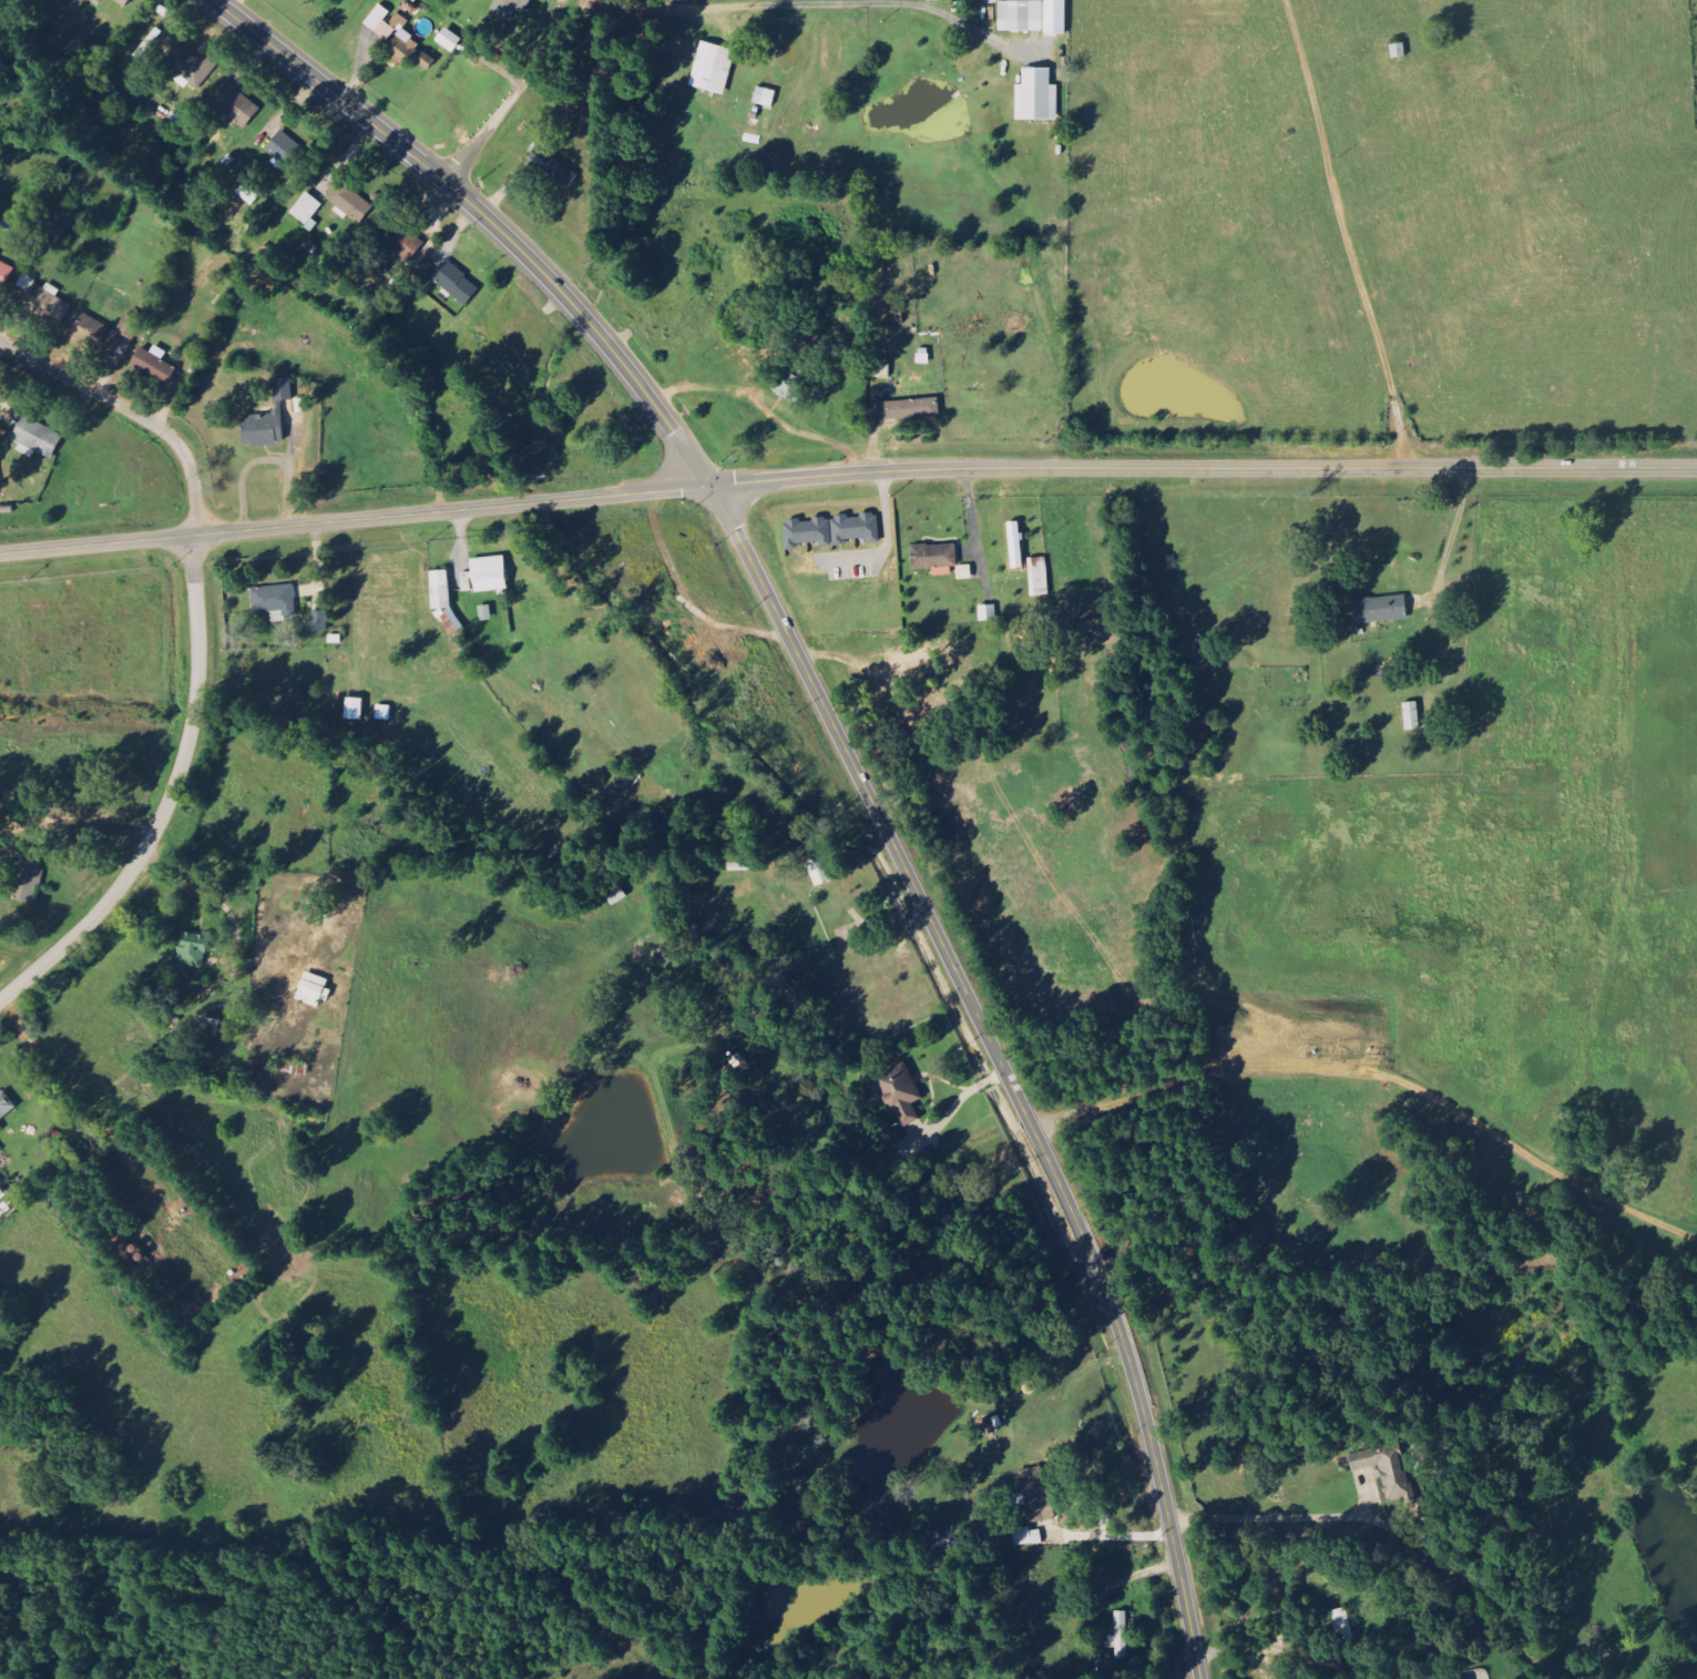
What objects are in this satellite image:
building: (100, 1)
building: (125, 2)
building: (1022, 16)
building: (1056, 17)
building: (400, 39)
building: (450, 39)
building: (196, 63)
building: (714, 68)
building: (1039, 95)
building: (766, 96)
building: (237, 103)
building: (123, 108)
building: (286, 147)
building: (554, 166)
building: (351, 201)
building: (308, 208)
road: (488, 216)
building: (407, 243)
building: (6, 272)
building: (457, 283)
building: (45, 301)
building: (105, 330)
building: (155, 364)
building: (910, 409)
road: (132, 410)
building: (269, 419)
building: (39, 437)
road: (846, 474)
building: (834, 531)
building: (936, 557)
building: (487, 576)
building: (1040, 577)
building: (1381, 610)
building: (989, 612)
building: (487, 613)
building: (320, 621)
building: (912, 659)
building: (356, 709)
building: (385, 712)
building: (1413, 716)
road: (168, 797)
building: (821, 871)
building: (29, 875)
building: (193, 950)
building: (315, 989)
road: (1001, 1065)
building: (295, 1067)
building: (902, 1093)
building: (7, 1106)
building: (1, 1127)
building: (1, 1191)
building: (1386, 1469)
building: (1037, 1494)
building: (1029, 1536)
building: (1343, 1625)
building: (1121, 1636)

